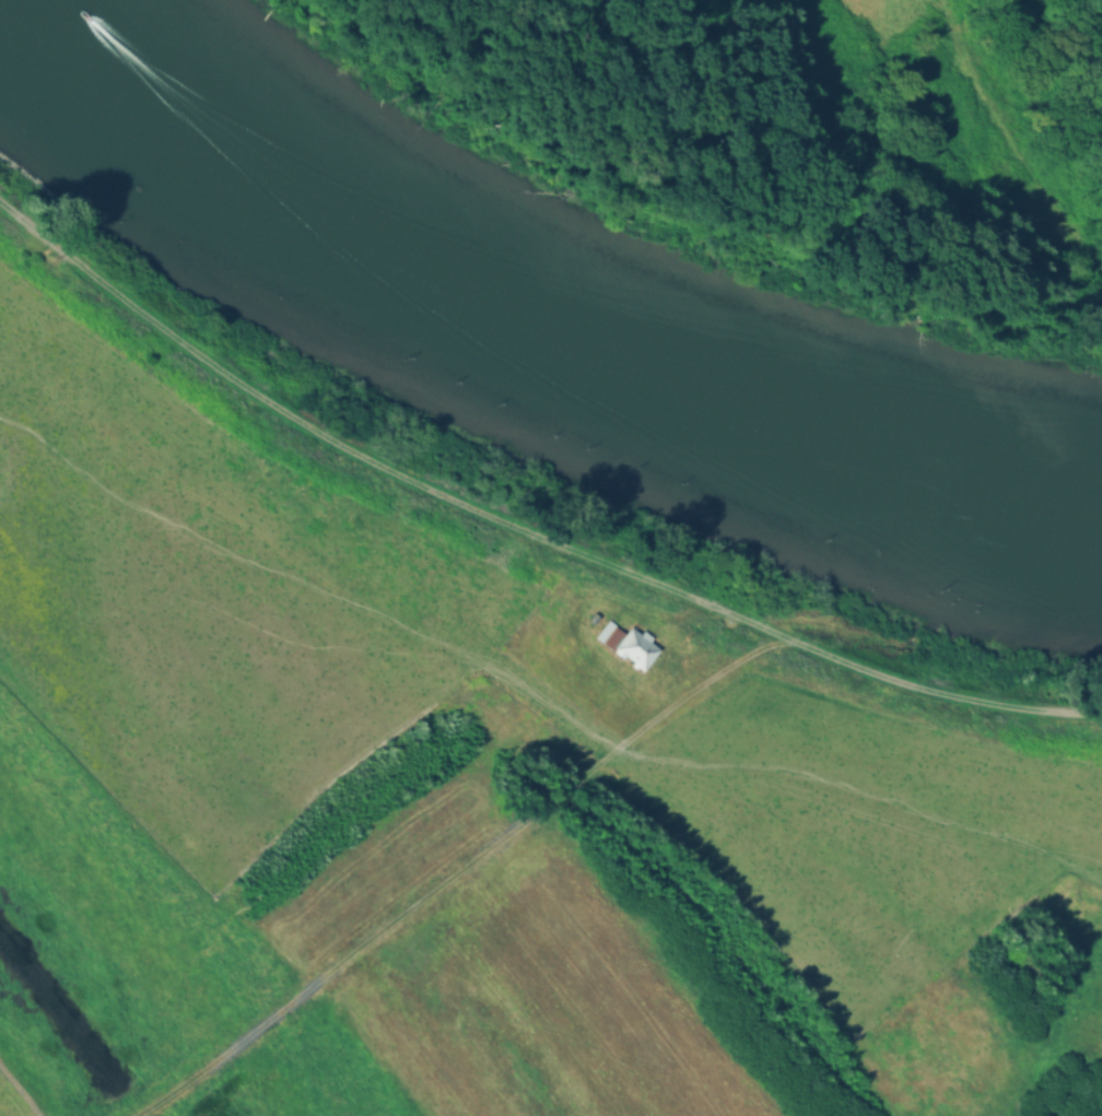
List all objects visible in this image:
river: (536, 361)
road: (518, 527)
building: (625, 646)
road: (457, 870)

